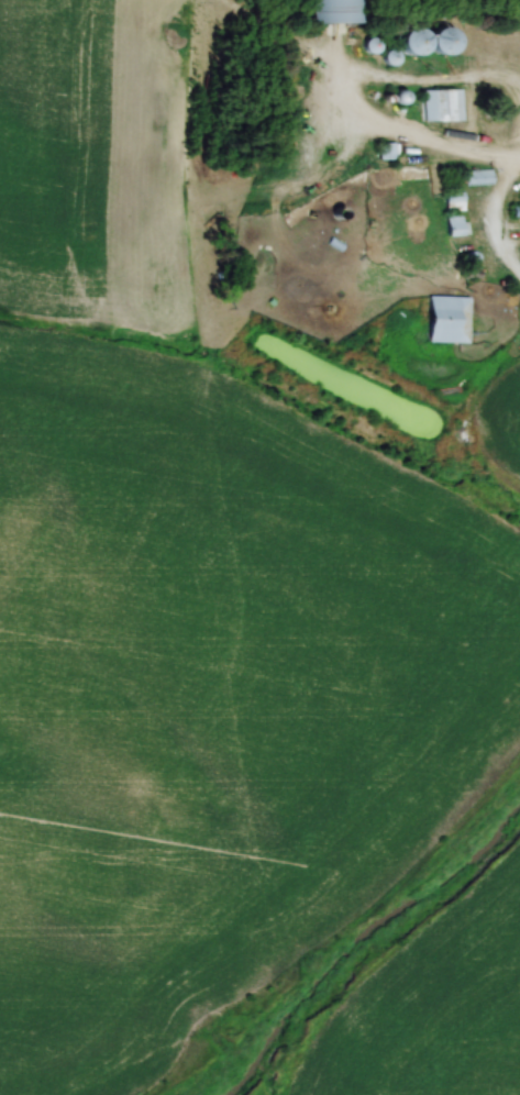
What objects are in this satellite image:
building: (333, 10)
building: (414, 38)
building: (441, 40)
building: (440, 102)
building: (476, 176)
building: (452, 200)
building: (455, 224)
building: (446, 317)
river: (365, 947)

